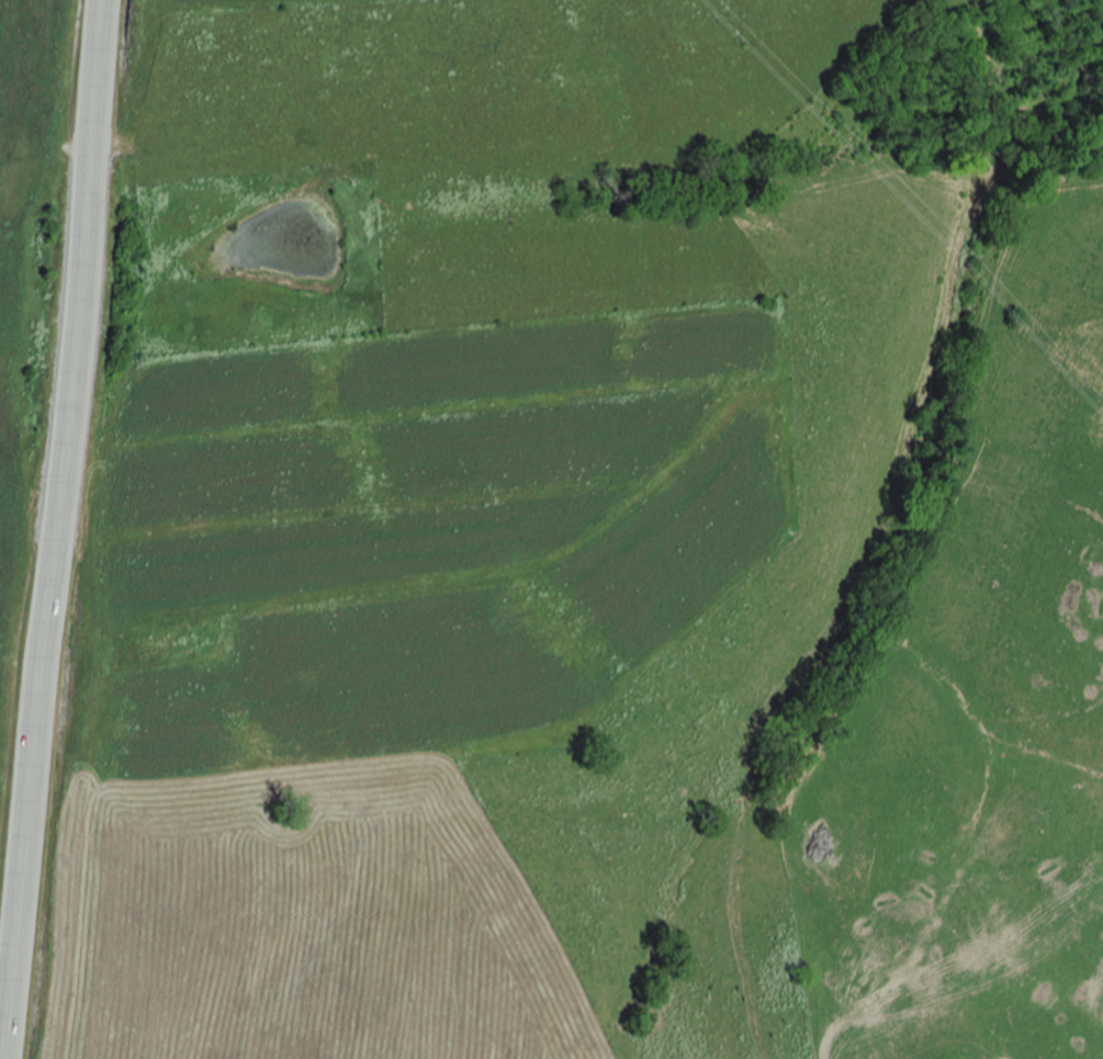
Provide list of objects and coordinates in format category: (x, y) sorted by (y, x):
power tower: (768, 41)
road: (55, 519)
building: (171, 643)
road: (869, 987)
road: (5, 1049)

